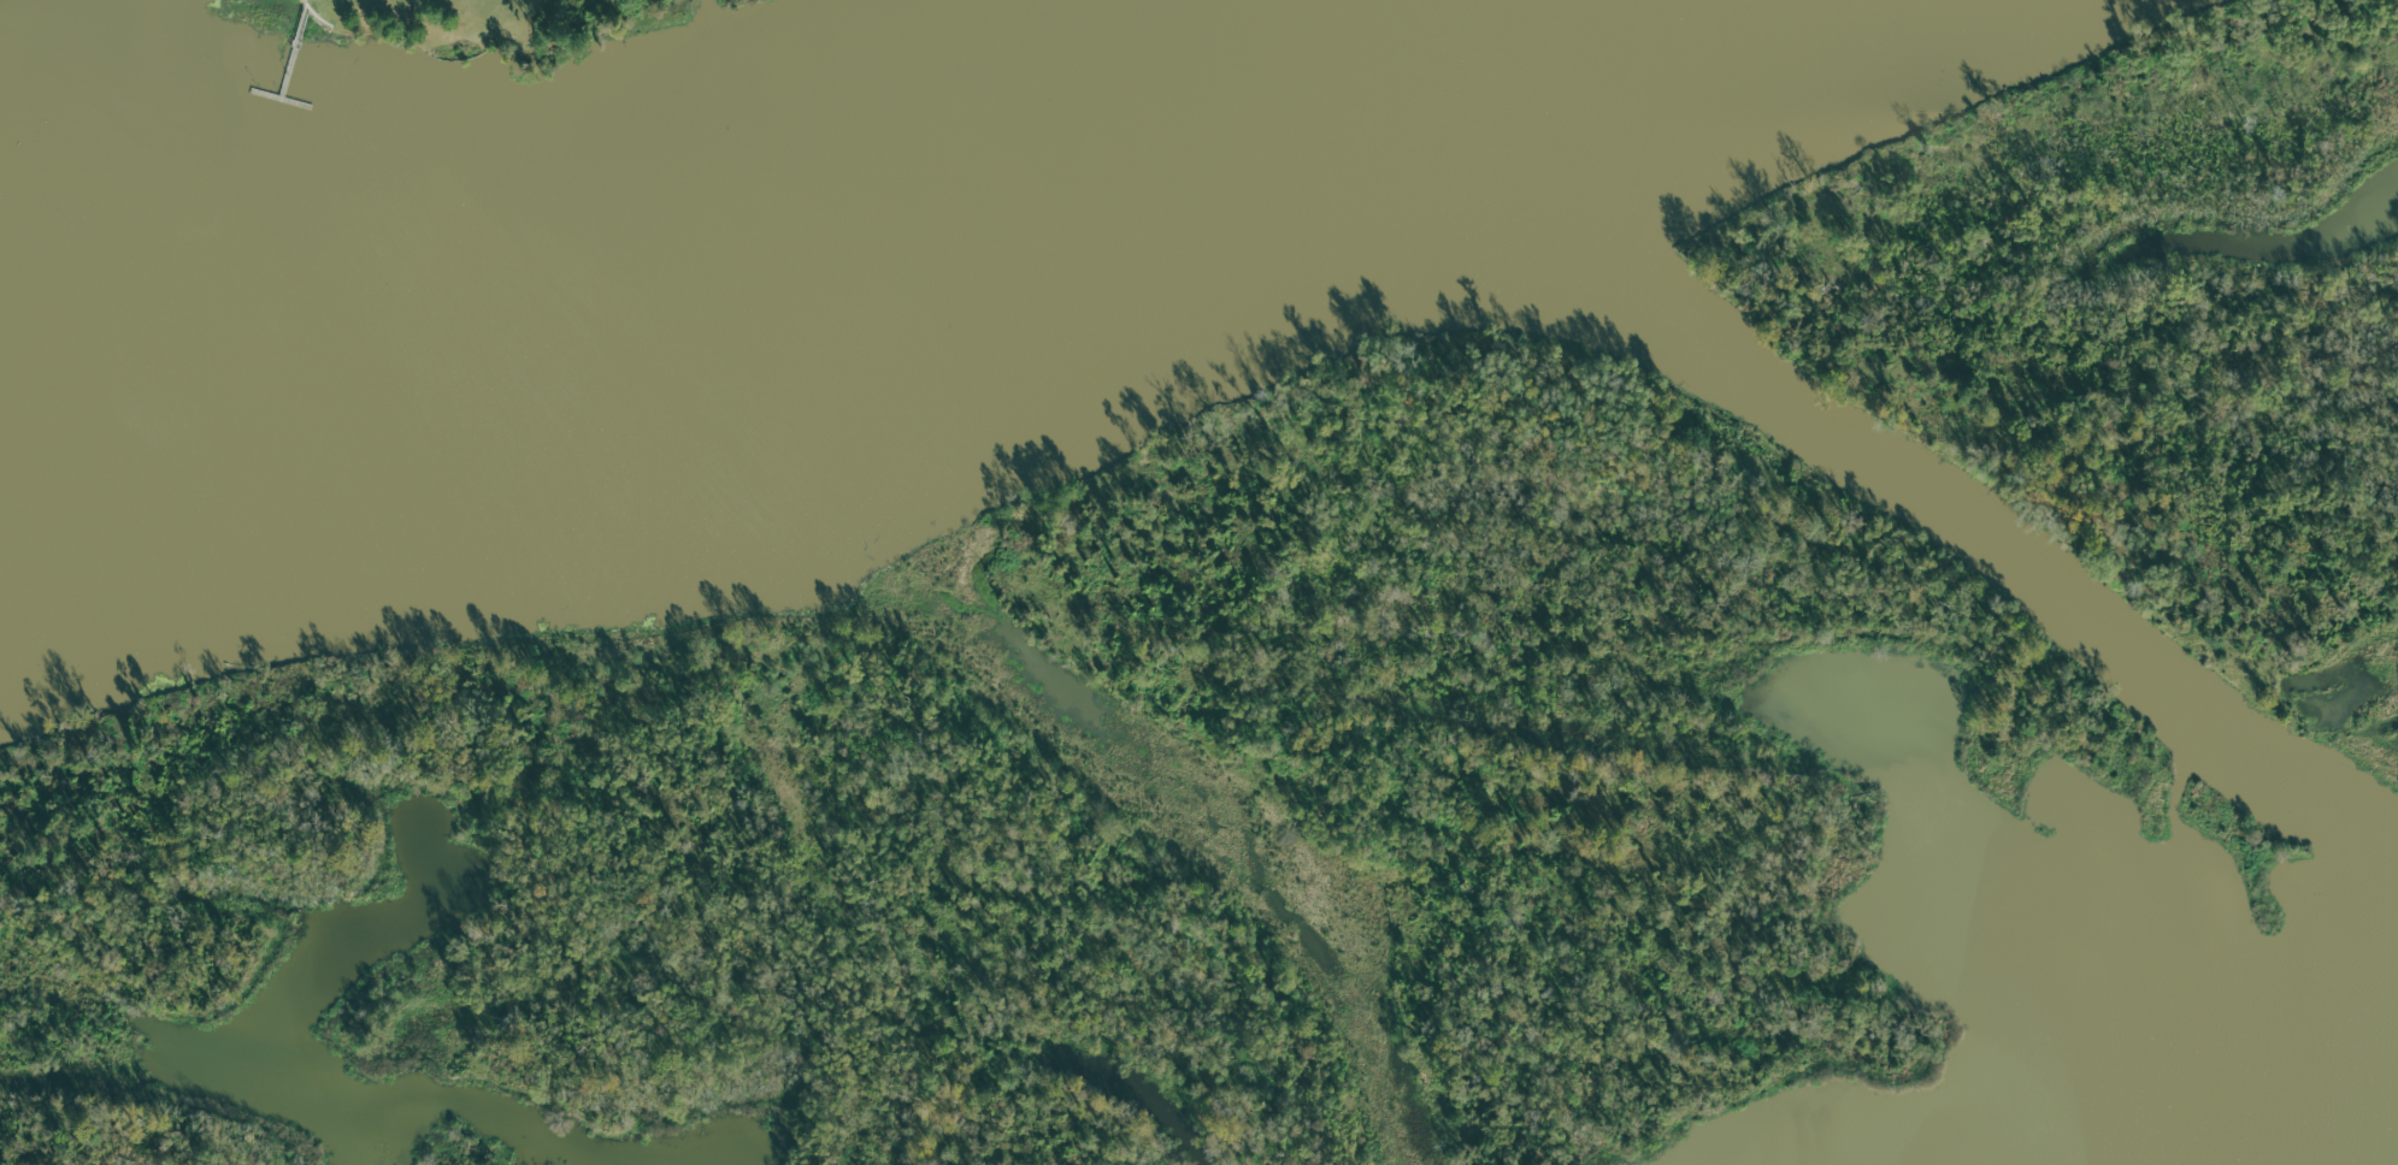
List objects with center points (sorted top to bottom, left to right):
road: (316, 14)
pier: (294, 51)
pier: (281, 96)
river: (870, 226)

